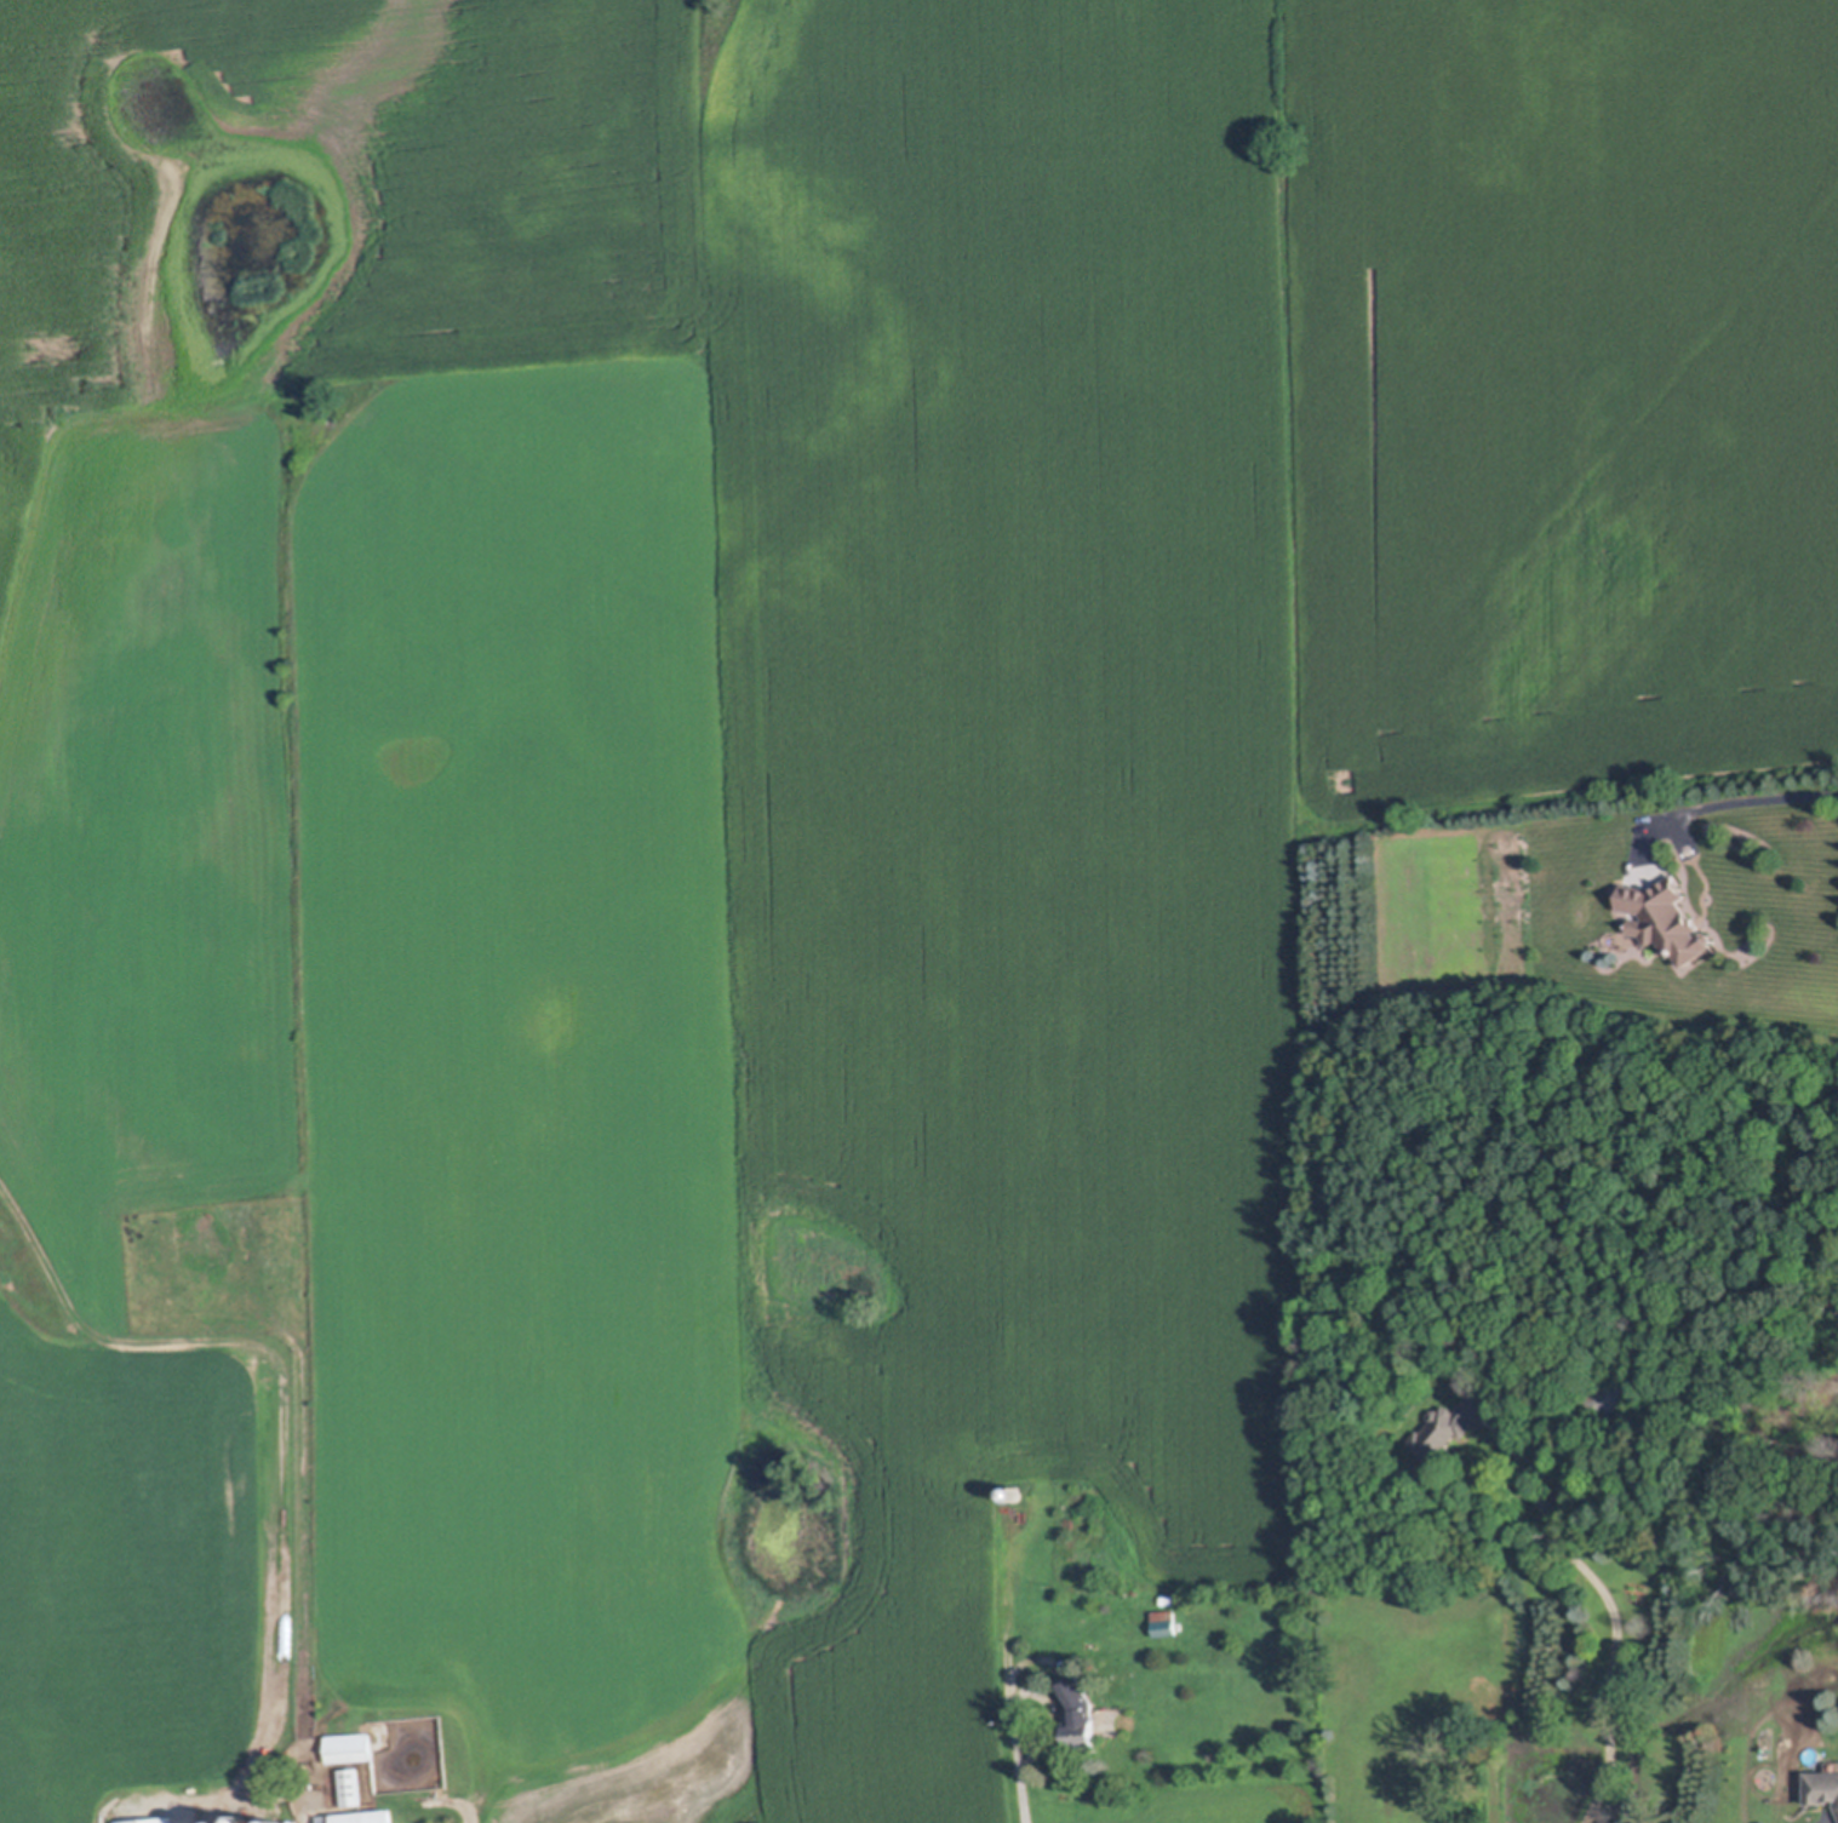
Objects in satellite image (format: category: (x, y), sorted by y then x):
road: (1740, 802)
building: (1667, 921)
building: (1609, 1393)
building: (1450, 1422)
building: (1169, 1596)
road: (1615, 1621)
building: (1167, 1622)
building: (1081, 1715)
building: (350, 1747)
road: (1020, 1759)
building: (353, 1783)
building: (1822, 1783)
building: (361, 1816)
building: (224, 1819)
building: (151, 1821)
building: (248, 1821)
building: (279, 1821)

